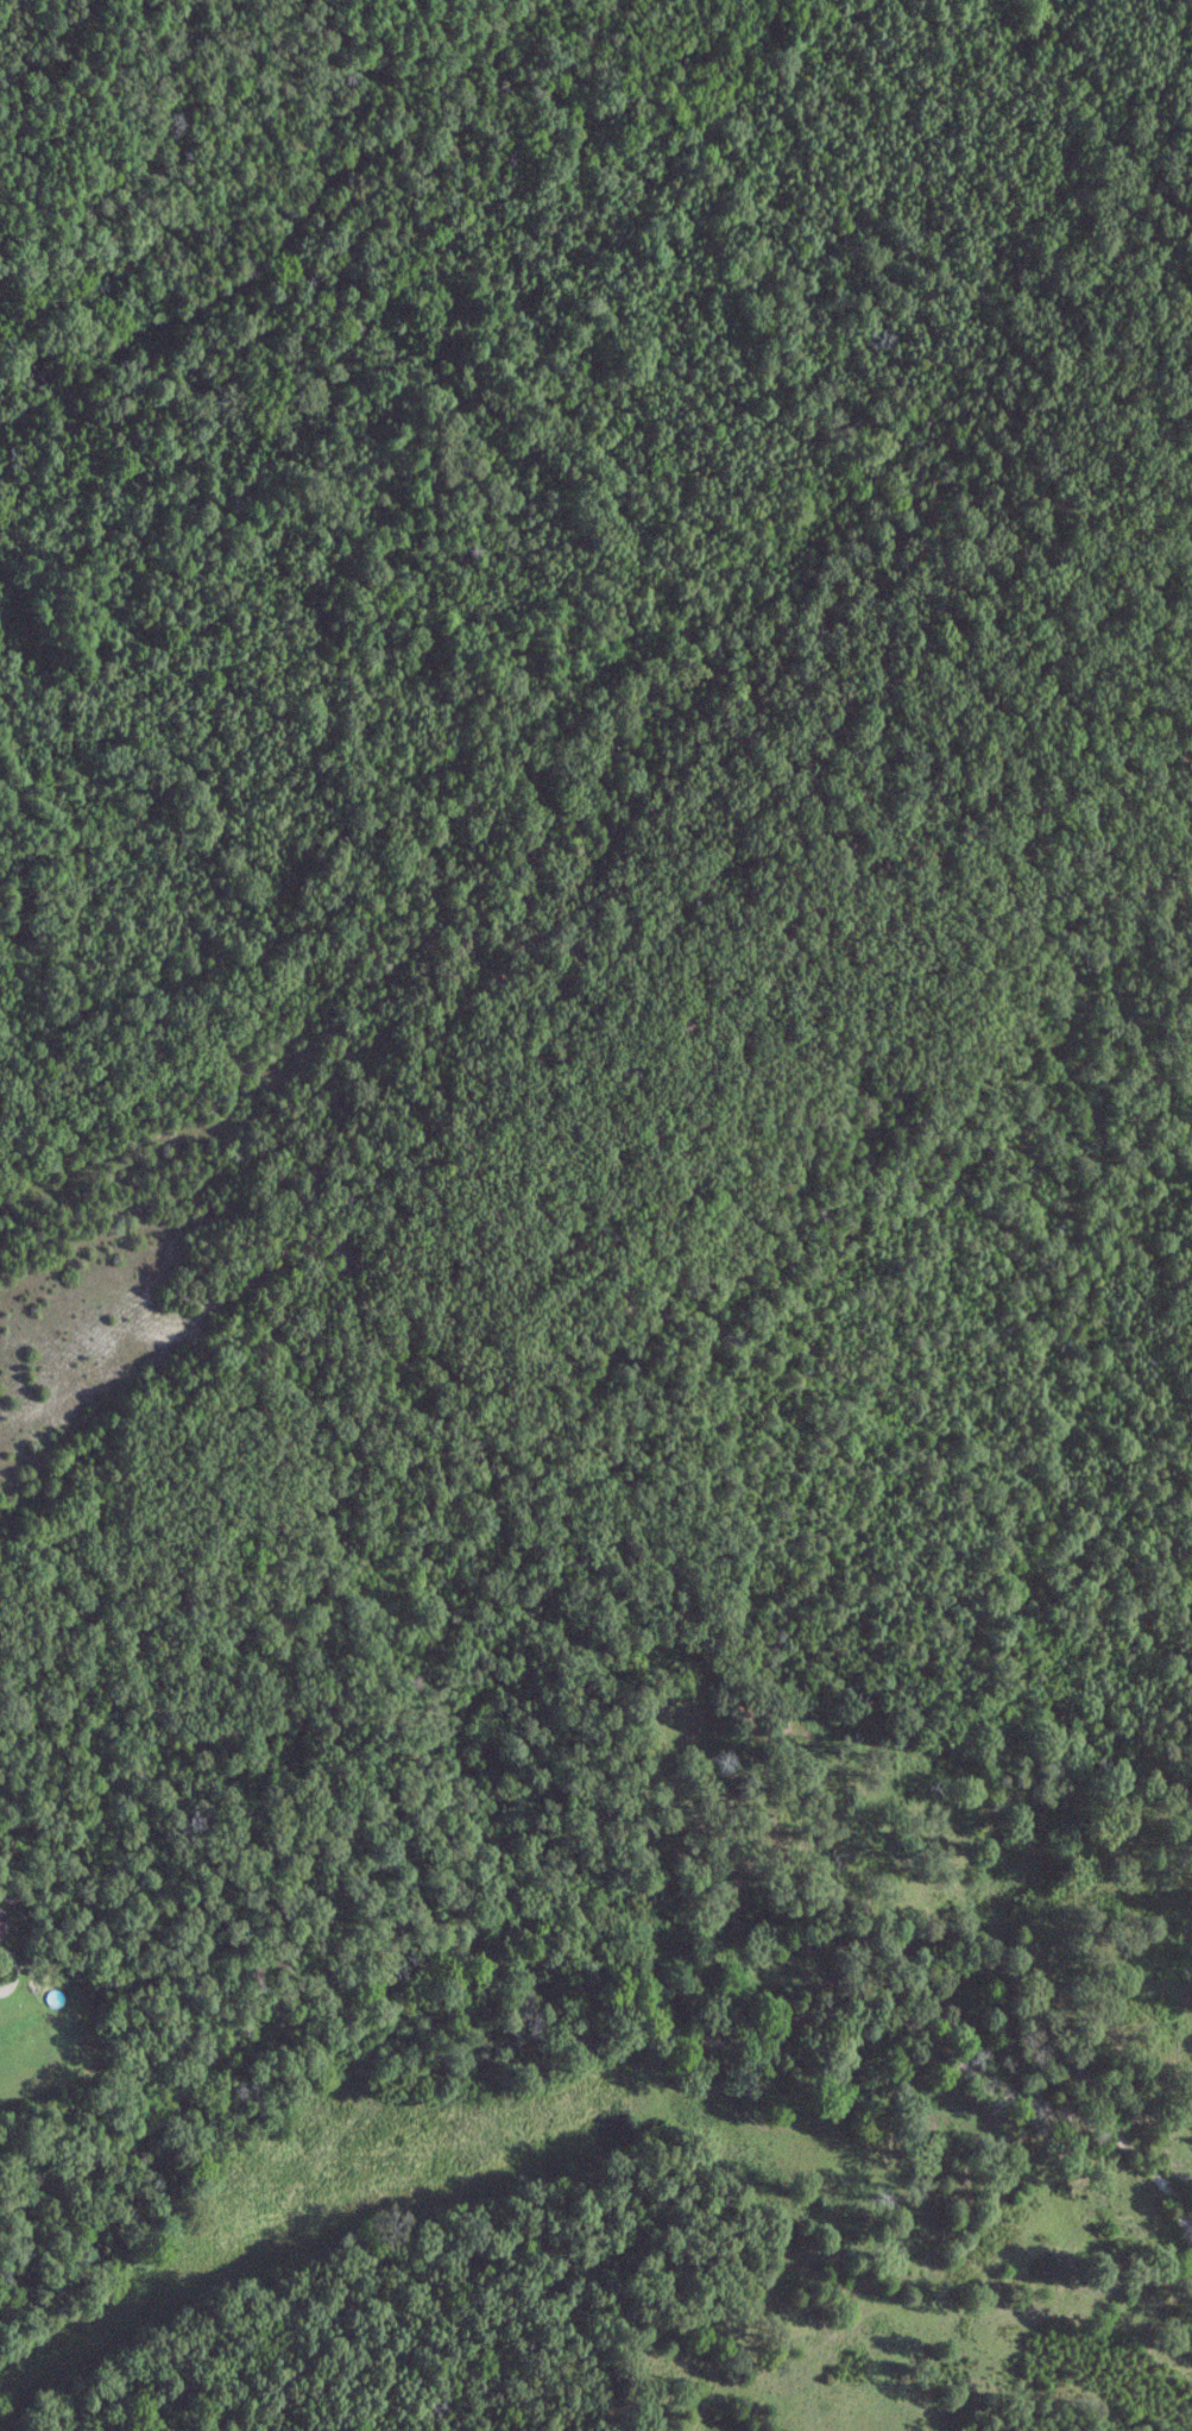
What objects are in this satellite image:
road: (10, 1967)

